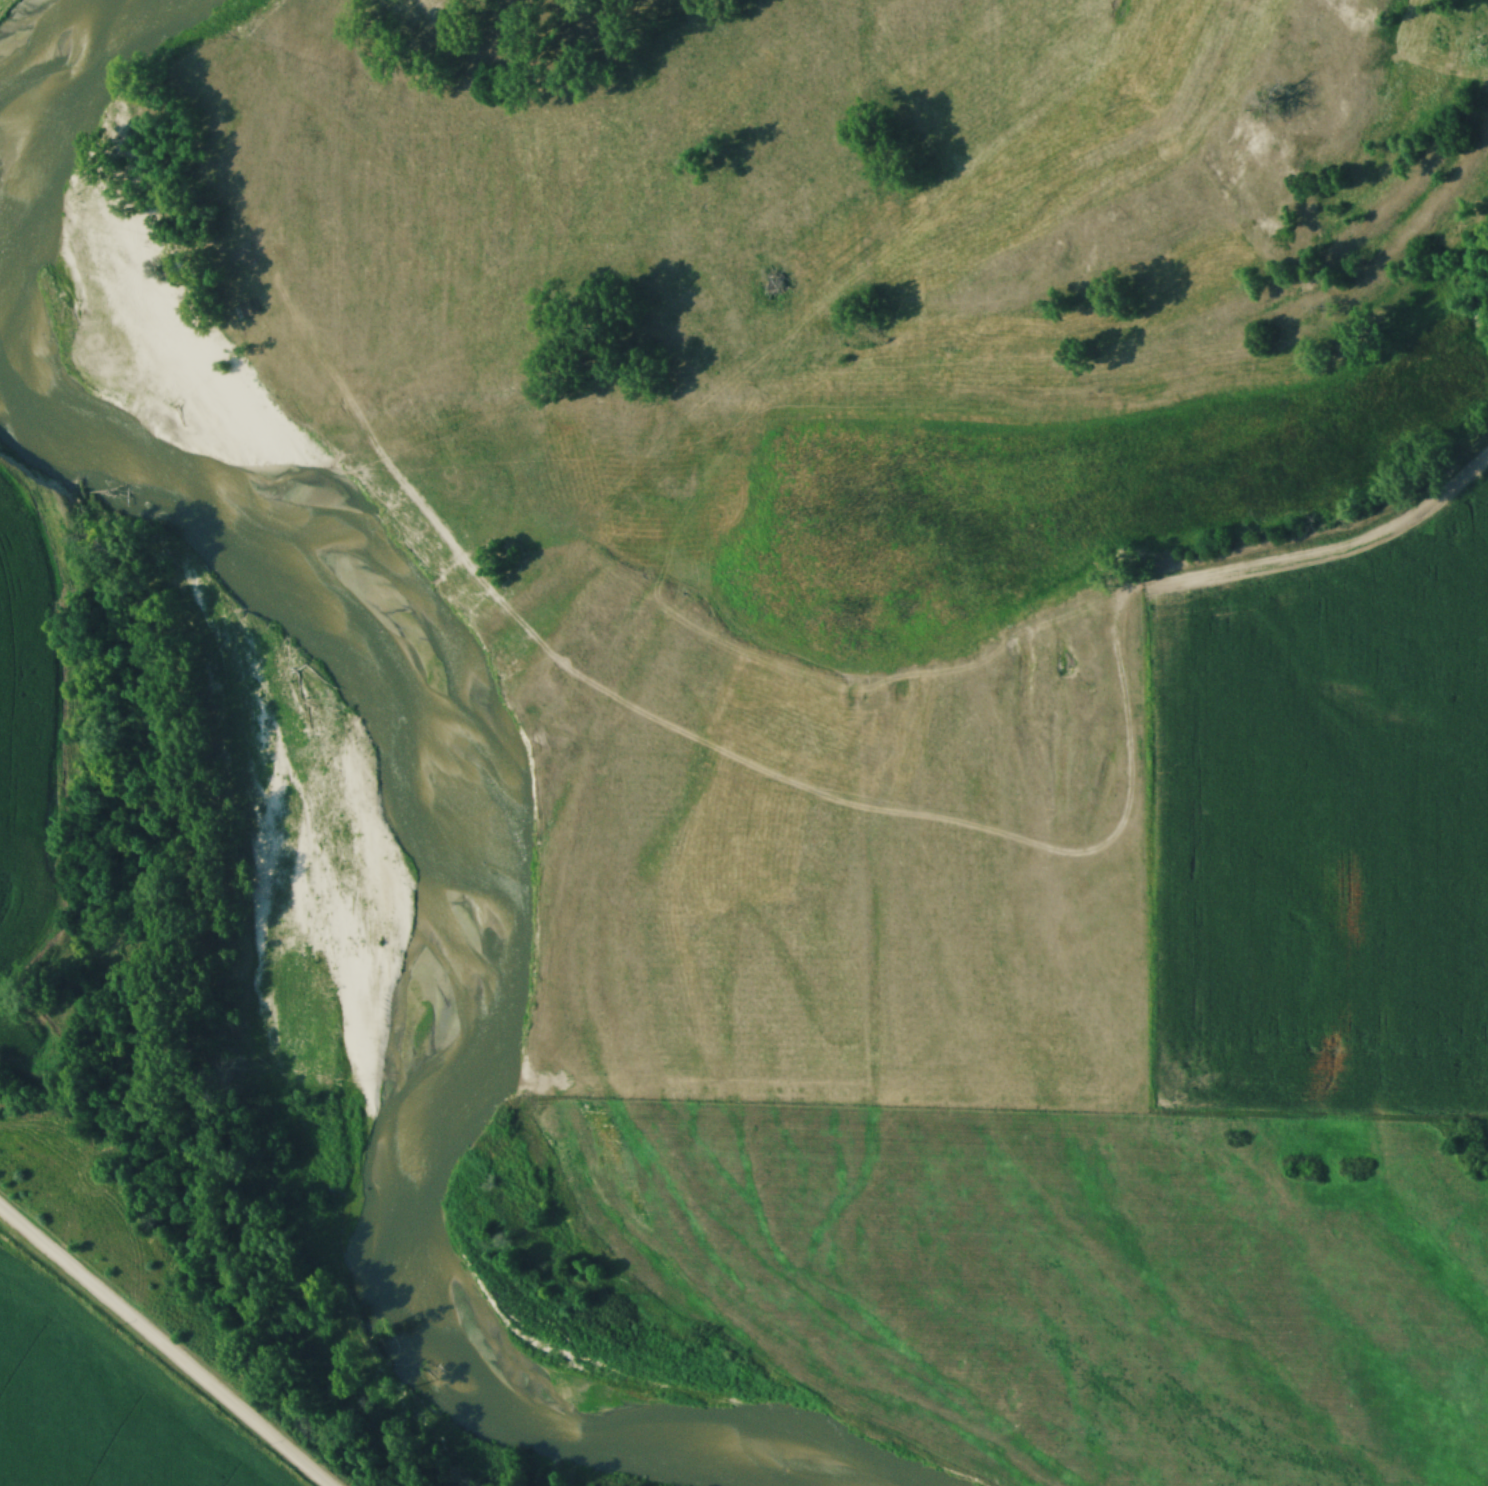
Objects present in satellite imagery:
river: (36, 74)
river: (459, 963)
road: (159, 1350)

